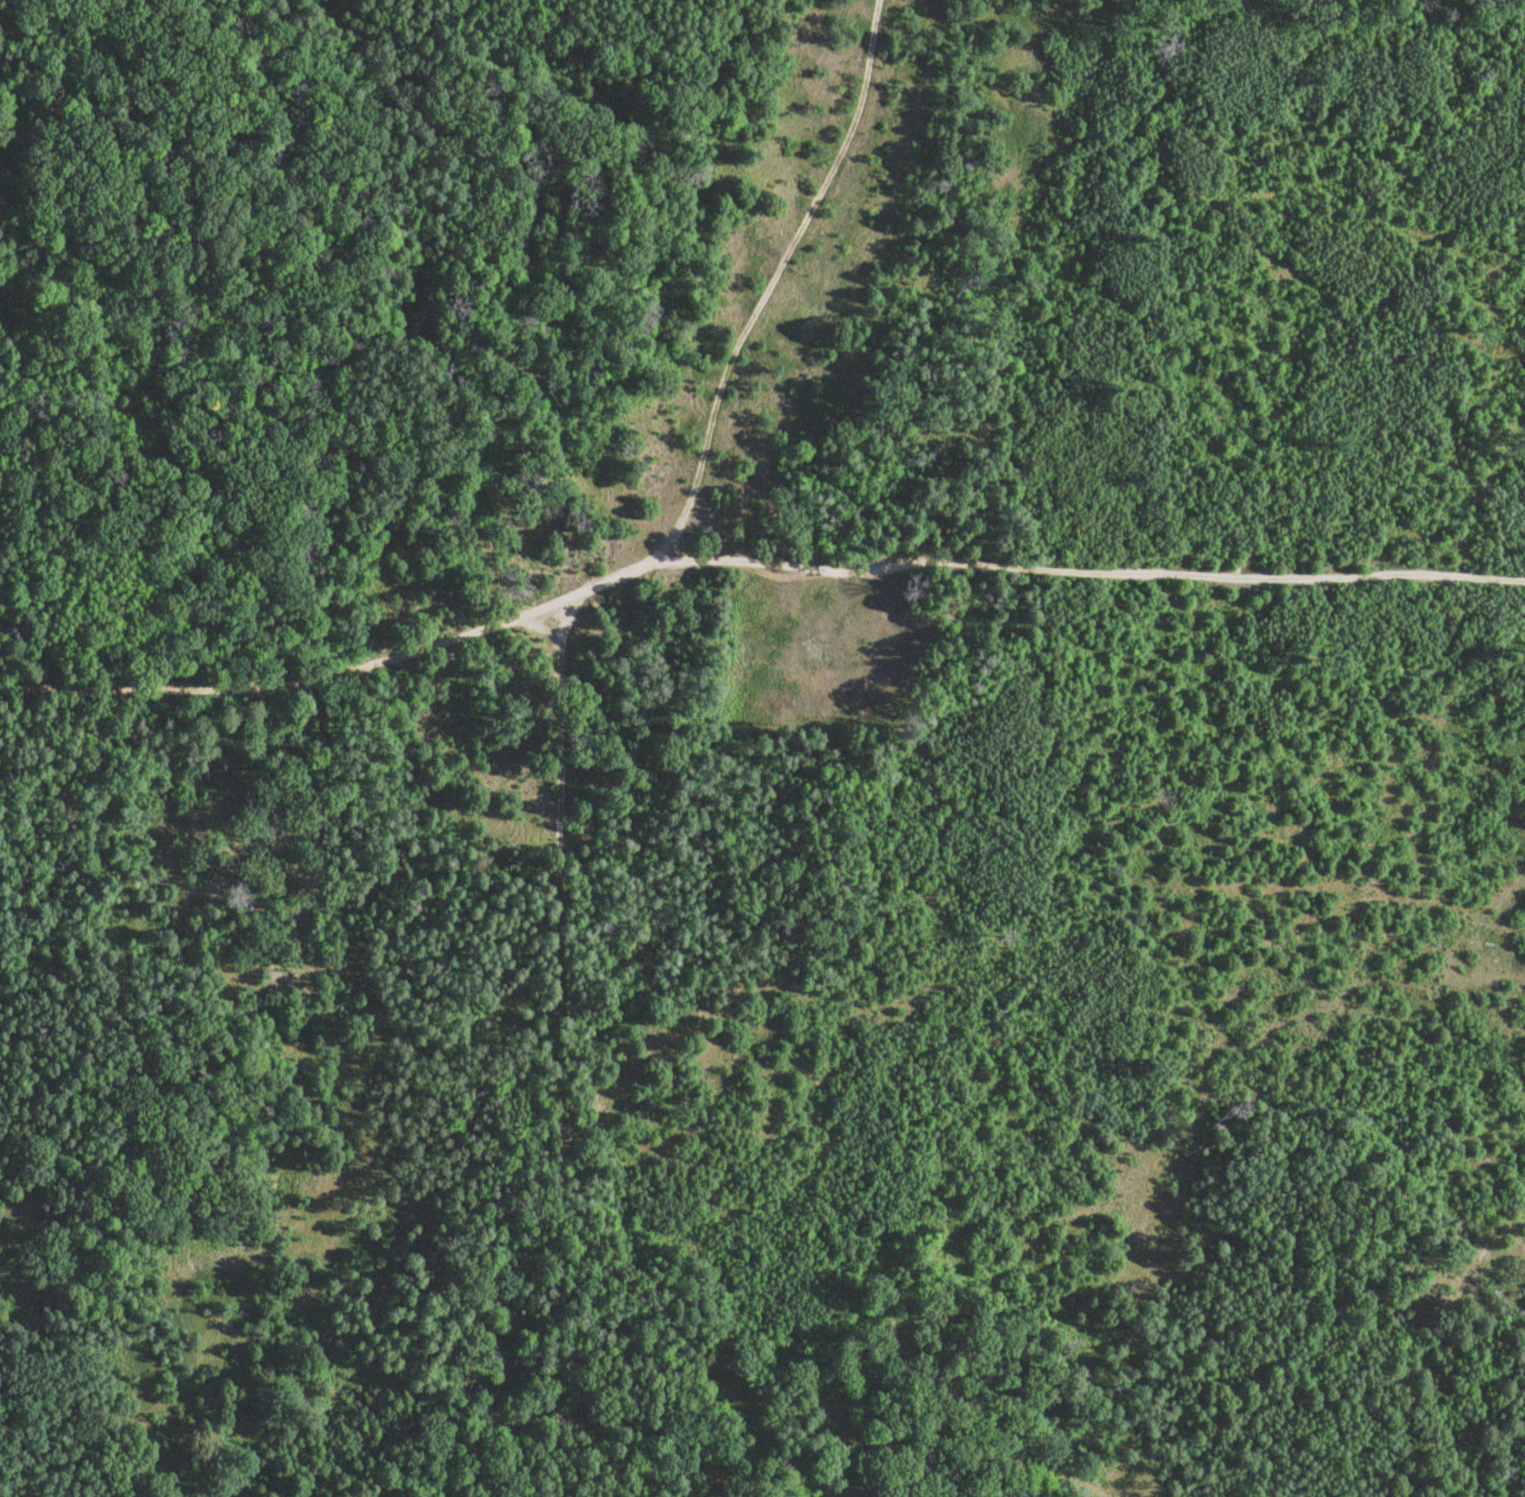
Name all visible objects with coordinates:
road: (776, 277)
road: (751, 563)
road: (561, 1051)

